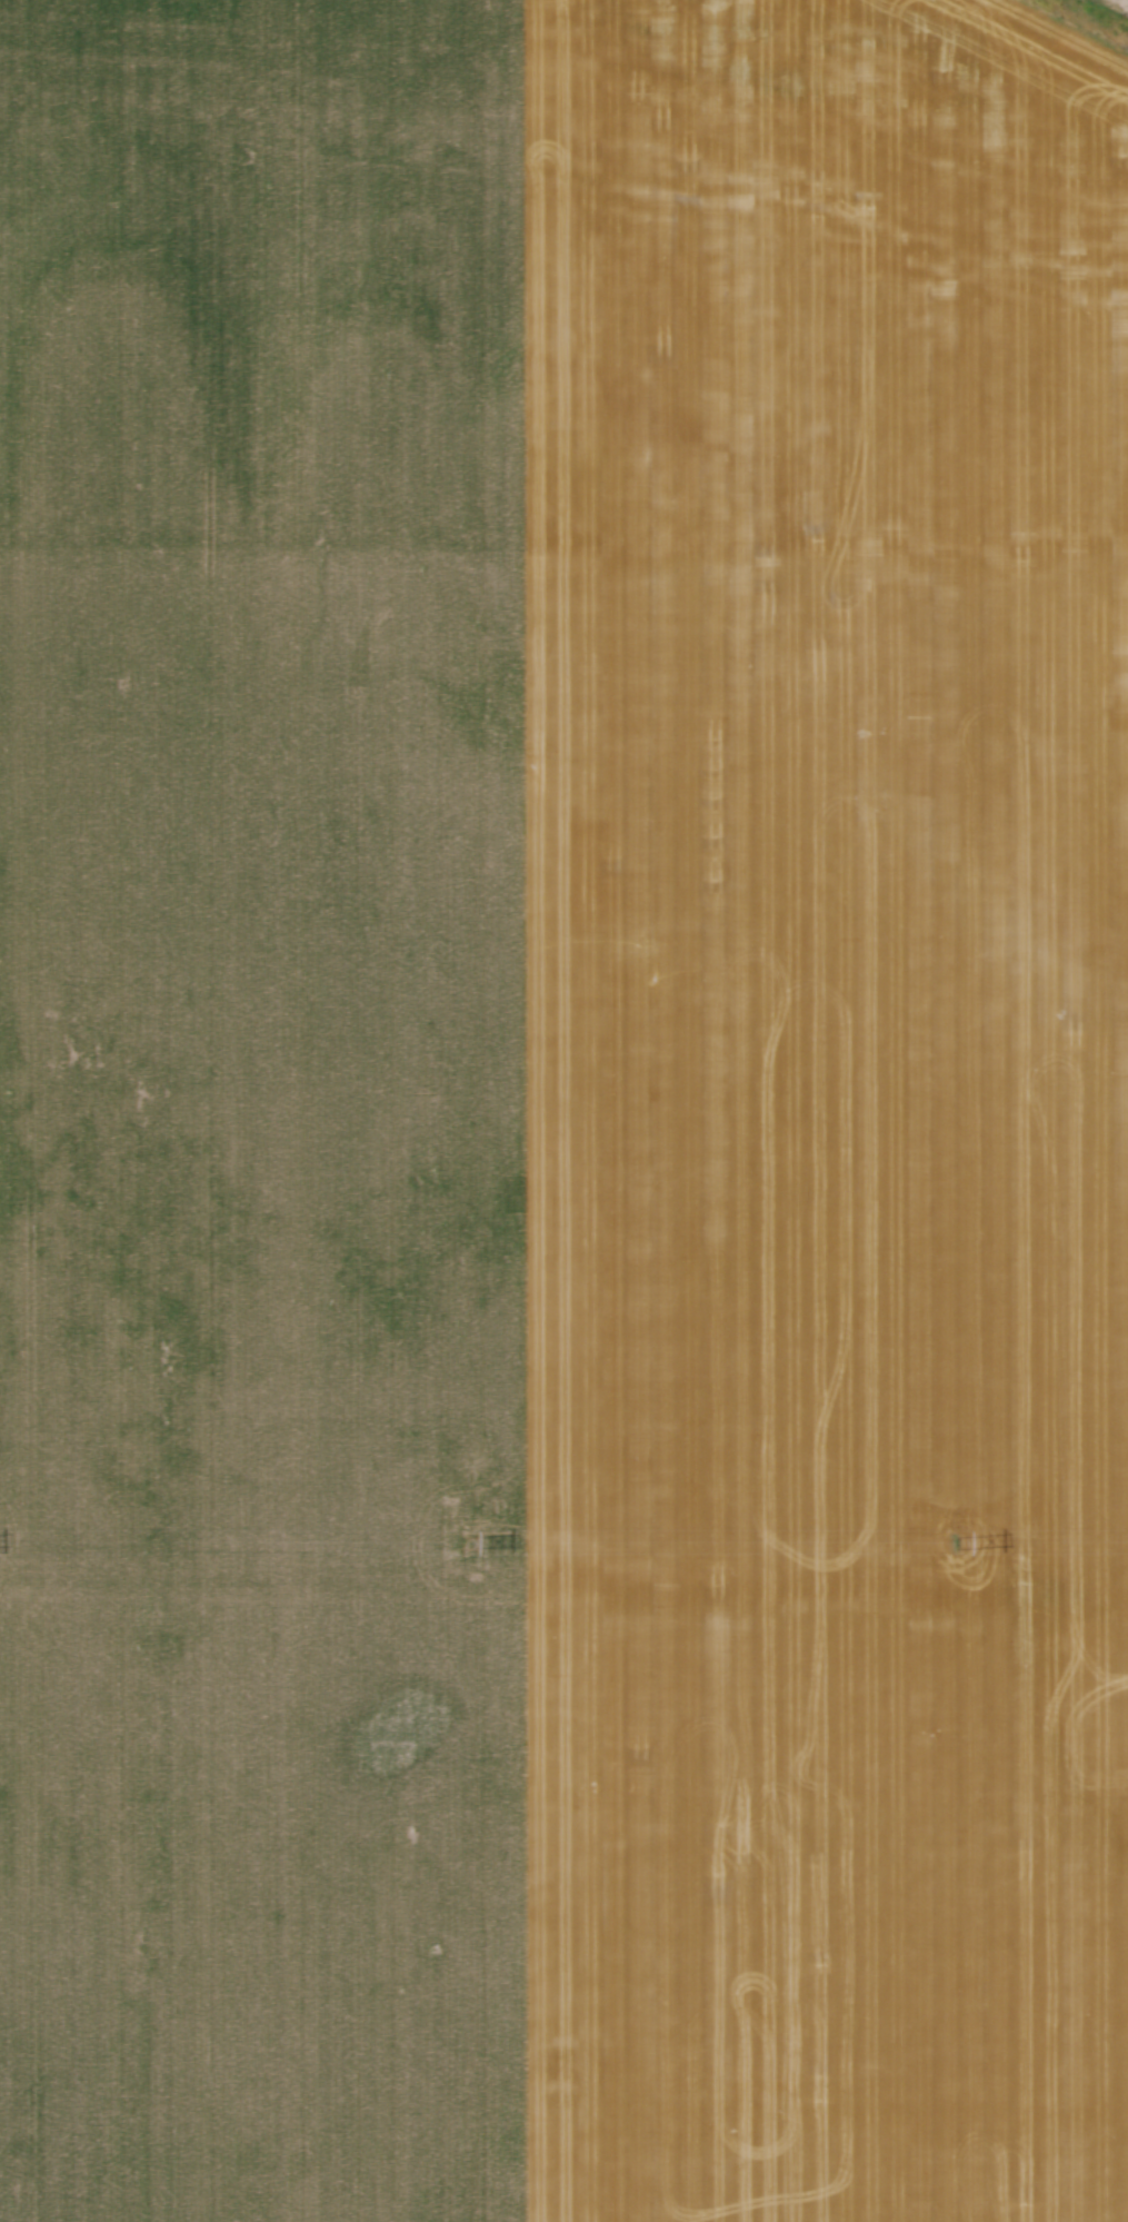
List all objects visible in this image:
power tower: (461, 1544)
power tower: (956, 1546)

